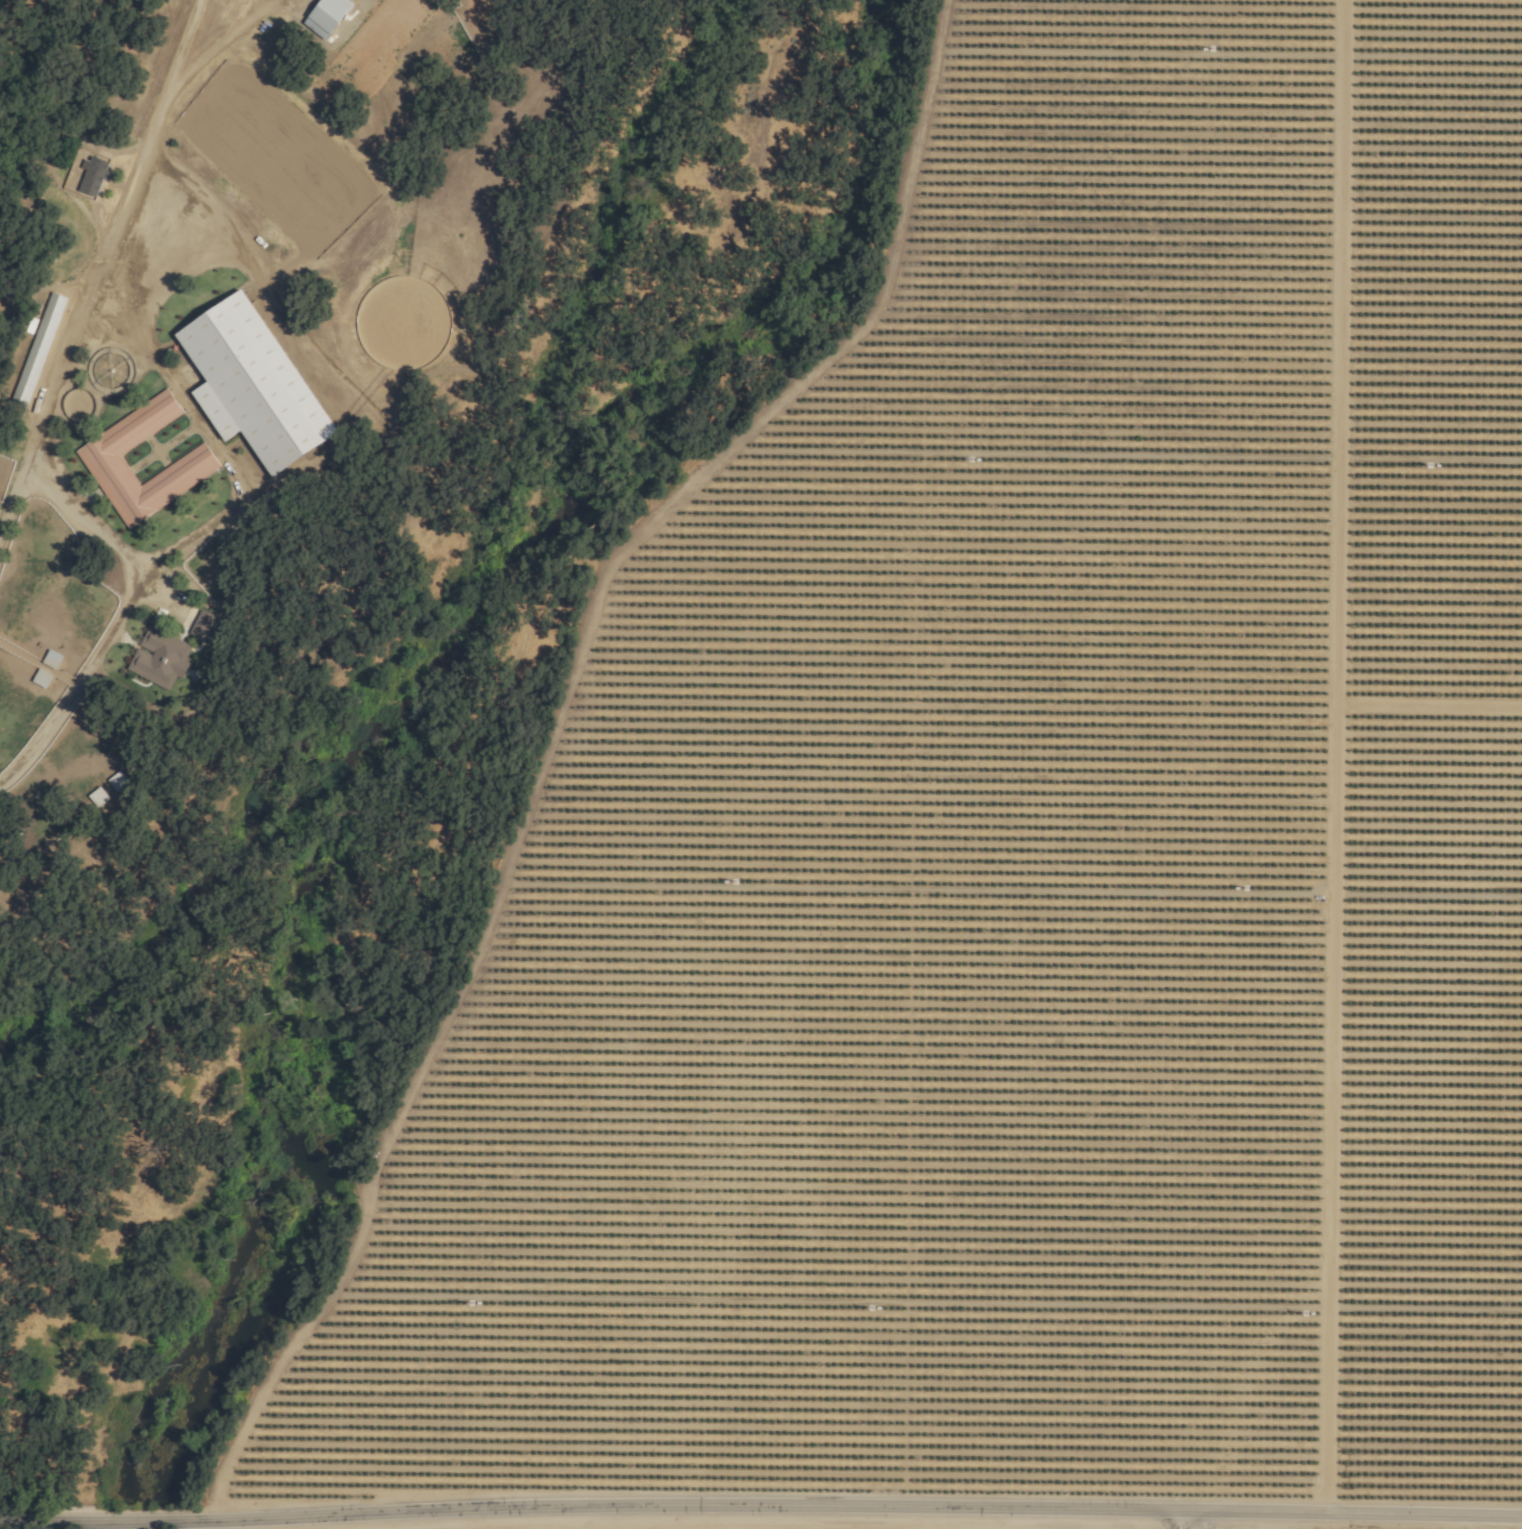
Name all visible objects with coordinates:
building: (325, 16)
road: (218, 45)
road: (100, 258)
building: (37, 348)
building: (249, 383)
road: (214, 437)
building: (194, 461)
road: (122, 615)
building: (200, 625)
building: (158, 658)
building: (40, 678)
crop: (1013, 833)
road: (761, 1515)
road: (1173, 1524)
road: (1201, 1524)

